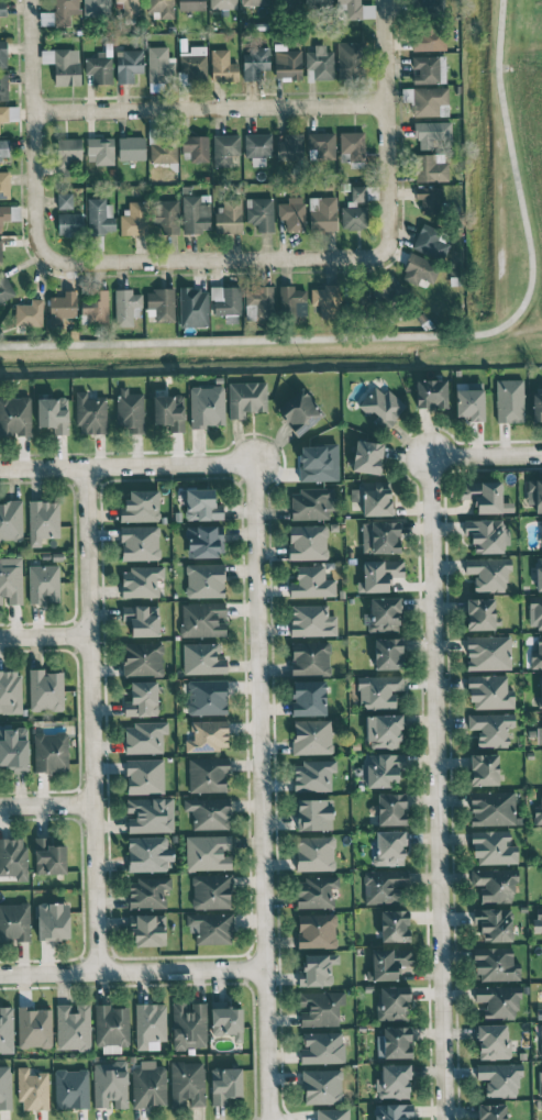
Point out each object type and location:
building: (254, 2)
building: (223, 3)
building: (286, 3)
building: (317, 3)
building: (425, 3)
building: (191, 4)
building: (2, 8)
building: (96, 8)
building: (130, 8)
building: (163, 8)
building: (355, 9)
building: (65, 11)
building: (428, 40)
building: (3, 54)
building: (347, 59)
building: (320, 62)
building: (193, 63)
building: (254, 63)
building: (287, 63)
building: (159, 64)
building: (63, 65)
building: (128, 65)
building: (222, 66)
building: (98, 68)
building: (429, 69)
building: (430, 101)
road: (209, 107)
building: (9, 113)
road: (386, 127)
road: (33, 133)
building: (431, 133)
building: (321, 144)
building: (3, 147)
building: (131, 147)
building: (196, 147)
building: (257, 147)
building: (289, 147)
building: (353, 147)
building: (224, 148)
building: (100, 149)
building: (68, 152)
building: (430, 167)
park: (509, 179)
building: (4, 184)
building: (428, 199)
building: (64, 200)
building: (355, 210)
building: (7, 212)
building: (196, 213)
building: (259, 213)
building: (292, 213)
building: (322, 213)
building: (99, 214)
building: (164, 217)
building: (229, 217)
building: (134, 219)
building: (69, 224)
building: (431, 244)
building: (0, 252)
road: (215, 260)
building: (419, 269)
building: (4, 289)
building: (225, 300)
building: (291, 300)
building: (325, 300)
building: (257, 302)
building: (161, 303)
building: (125, 307)
building: (192, 307)
building: (63, 309)
building: (96, 309)
building: (29, 312)
road: (528, 320)
road: (420, 334)
building: (431, 393)
building: (246, 398)
building: (509, 400)
building: (469, 403)
building: (207, 406)
building: (381, 406)
building: (537, 407)
building: (129, 410)
building: (168, 411)
building: (299, 411)
building: (53, 413)
building: (90, 413)
building: (14, 415)
building: (367, 456)
building: (318, 463)
road: (126, 466)
building: (534, 494)
building: (485, 496)
building: (373, 497)
building: (311, 503)
building: (201, 504)
building: (140, 506)
building: (10, 520)
building: (43, 520)
building: (486, 535)
building: (380, 536)
building: (204, 541)
building: (307, 542)
building: (140, 543)
building: (488, 573)
building: (378, 575)
building: (204, 579)
building: (10, 580)
building: (141, 581)
building: (43, 583)
building: (311, 583)
building: (534, 611)
building: (381, 613)
building: (479, 613)
building: (142, 619)
building: (202, 619)
building: (311, 620)
road: (43, 636)
building: (488, 652)
building: (387, 653)
building: (538, 653)
building: (310, 657)
building: (142, 658)
building: (202, 658)
building: (540, 689)
building: (45, 690)
building: (379, 690)
building: (10, 691)
building: (489, 691)
building: (207, 697)
building: (308, 697)
building: (142, 699)
road: (88, 719)
building: (490, 728)
building: (384, 730)
road: (434, 731)
building: (207, 735)
building: (539, 735)
building: (144, 736)
building: (311, 736)
building: (14, 750)
building: (51, 752)
building: (484, 768)
building: (381, 769)
building: (208, 774)
building: (313, 775)
building: (144, 776)
road: (259, 790)
road: (45, 805)
building: (391, 808)
building: (493, 808)
building: (208, 812)
building: (538, 812)
building: (313, 813)
building: (150, 814)
building: (388, 847)
building: (493, 847)
building: (208, 852)
building: (148, 853)
building: (314, 853)
building: (48, 856)
building: (13, 857)
building: (496, 884)
building: (384, 886)
building: (211, 890)
building: (147, 891)
building: (316, 891)
building: (538, 919)
building: (14, 921)
building: (53, 921)
building: (494, 923)
building: (394, 925)
building: (211, 928)
building: (147, 930)
building: (317, 930)
building: (388, 963)
building: (496, 964)
road: (131, 969)
building: (317, 969)
building: (498, 1000)
building: (392, 1002)
building: (320, 1008)
building: (539, 1013)
building: (226, 1021)
building: (150, 1025)
building: (188, 1025)
building: (34, 1027)
building: (73, 1027)
building: (111, 1028)
building: (5, 1029)
building: (541, 1039)
building: (493, 1041)
building: (396, 1042)
building: (321, 1047)
building: (499, 1078)
building: (392, 1080)
building: (187, 1083)
building: (540, 1083)
building: (224, 1084)
building: (4, 1086)
building: (148, 1086)
building: (322, 1086)
building: (70, 1088)
building: (32, 1089)
building: (392, 1111)
building: (491, 1111)
building: (332, 1113)

